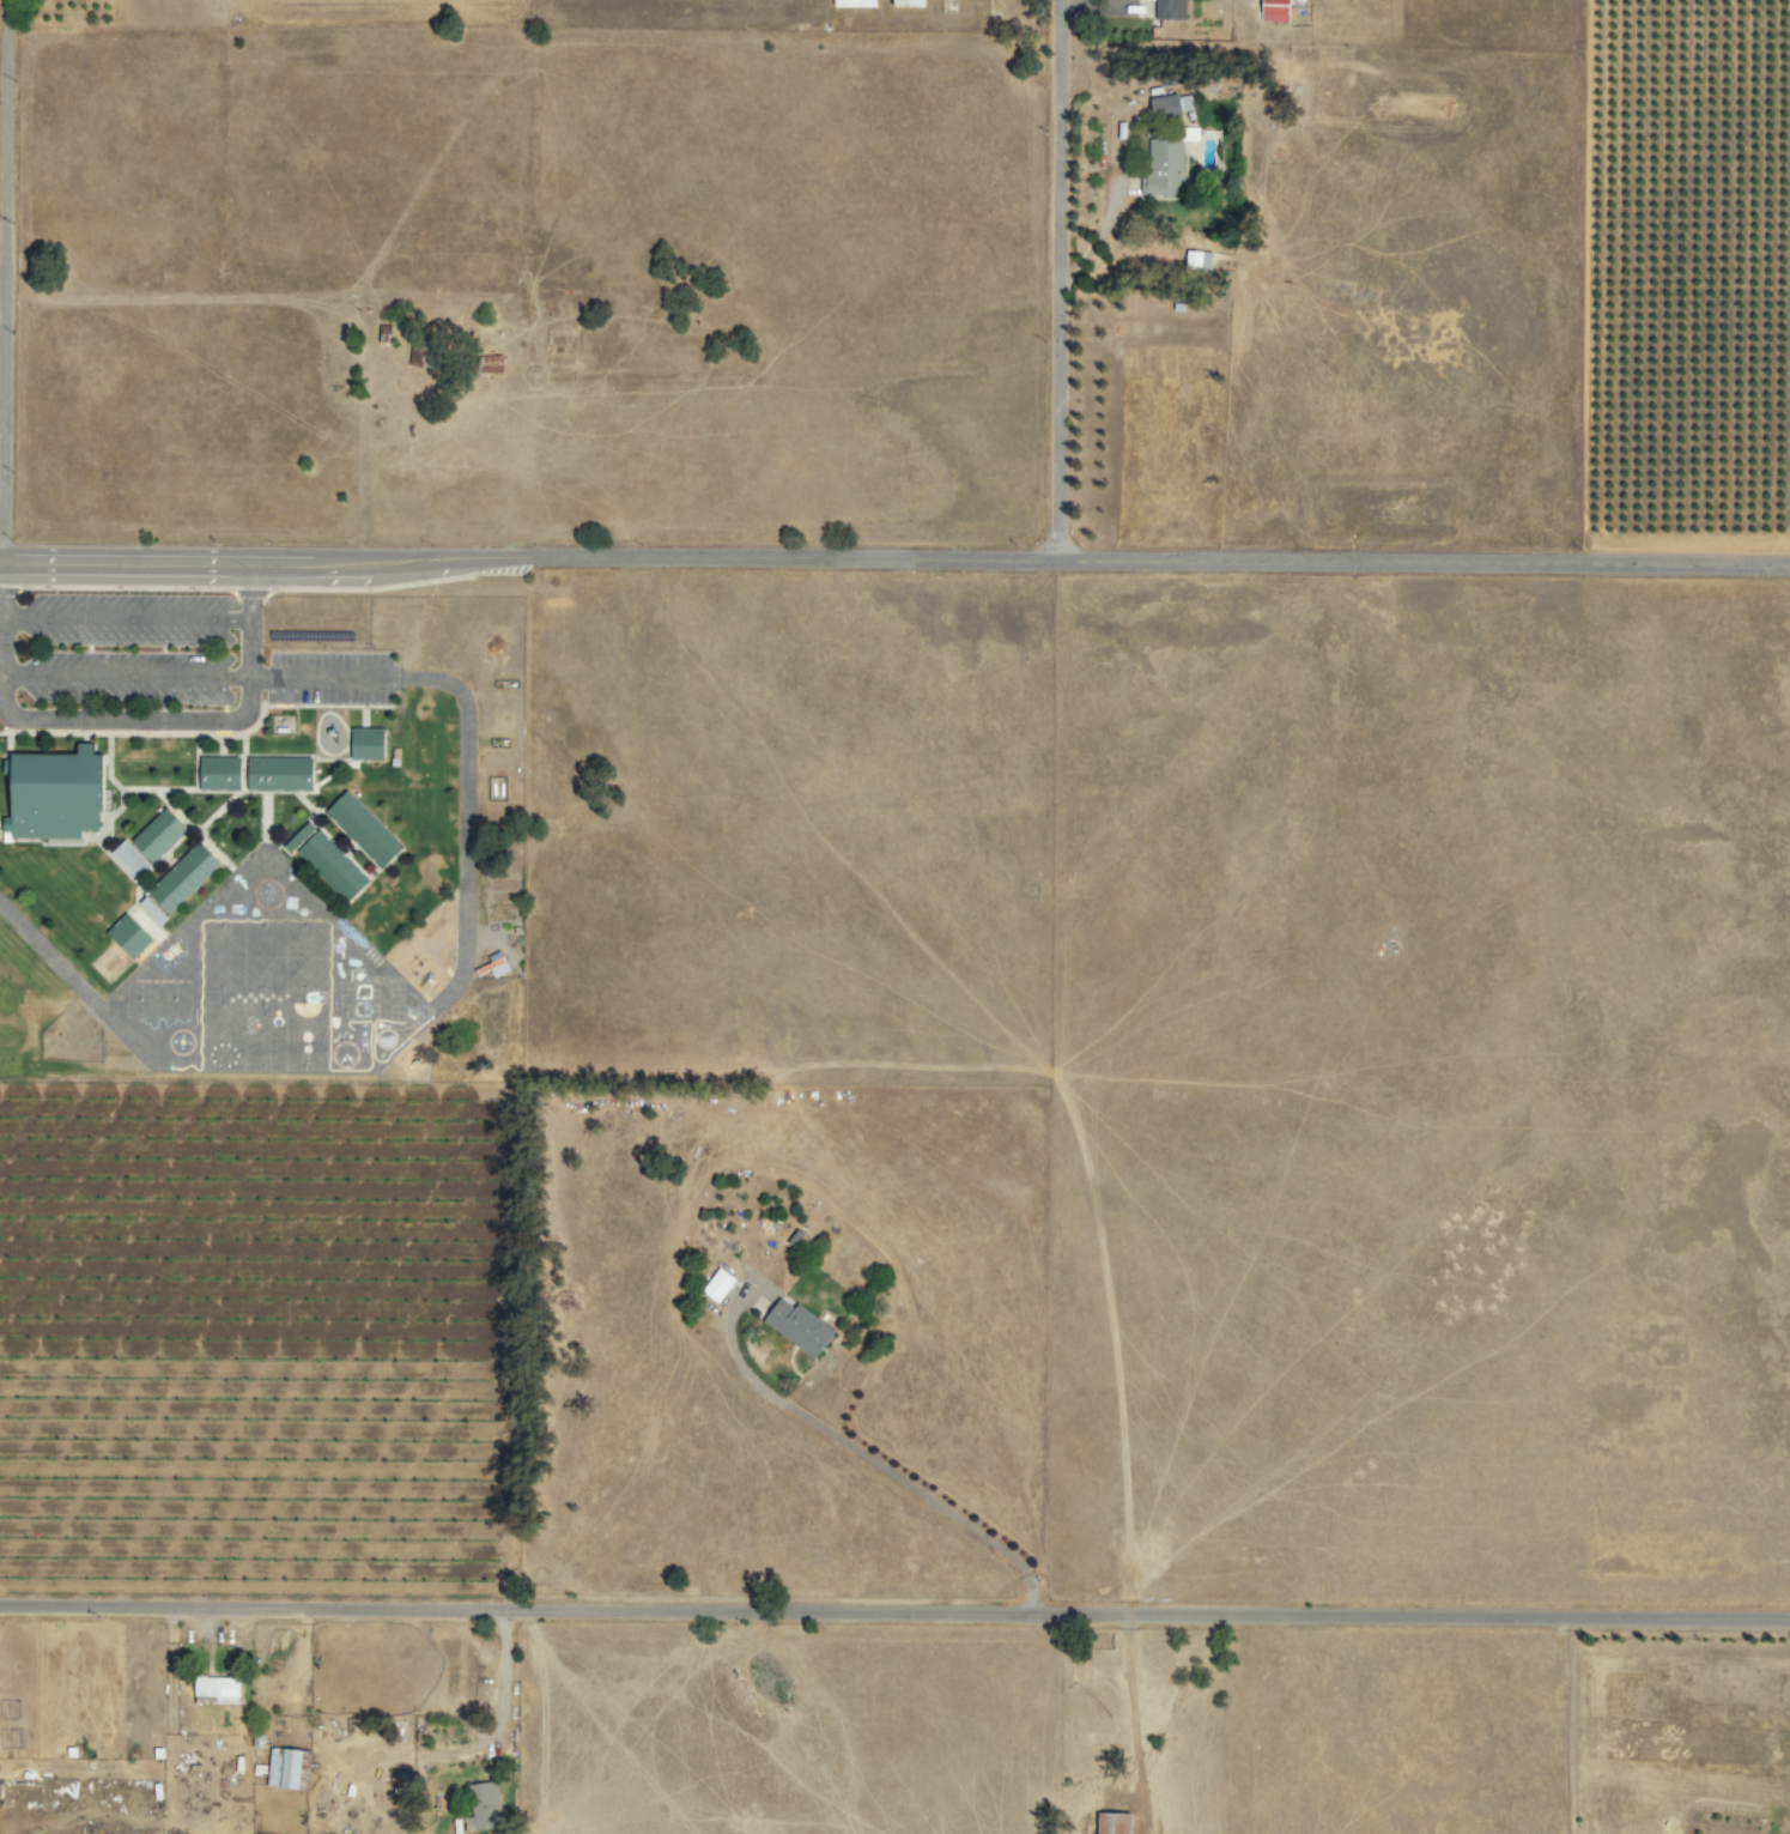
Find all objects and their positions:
building: (849, 2)
building: (1166, 8)
building: (1269, 10)
building: (1166, 105)
building: (1160, 169)
road: (2, 279)
road: (1056, 279)
building: (487, 363)
road: (894, 558)
road: (0, 587)
road: (249, 591)
road: (125, 616)
solar farm: (314, 622)
road: (166, 721)
building: (363, 743)
building: (49, 792)
building: (358, 828)
building: (142, 843)
building: (322, 860)
building: (177, 877)
building: (147, 910)
building: (123, 936)
building: (490, 964)
building: (712, 1284)
building: (794, 1326)
crop: (259, 1334)
road: (894, 1606)
road: (500, 1675)
building: (210, 1687)
building: (281, 1766)
building: (479, 1804)
building: (1108, 1823)

